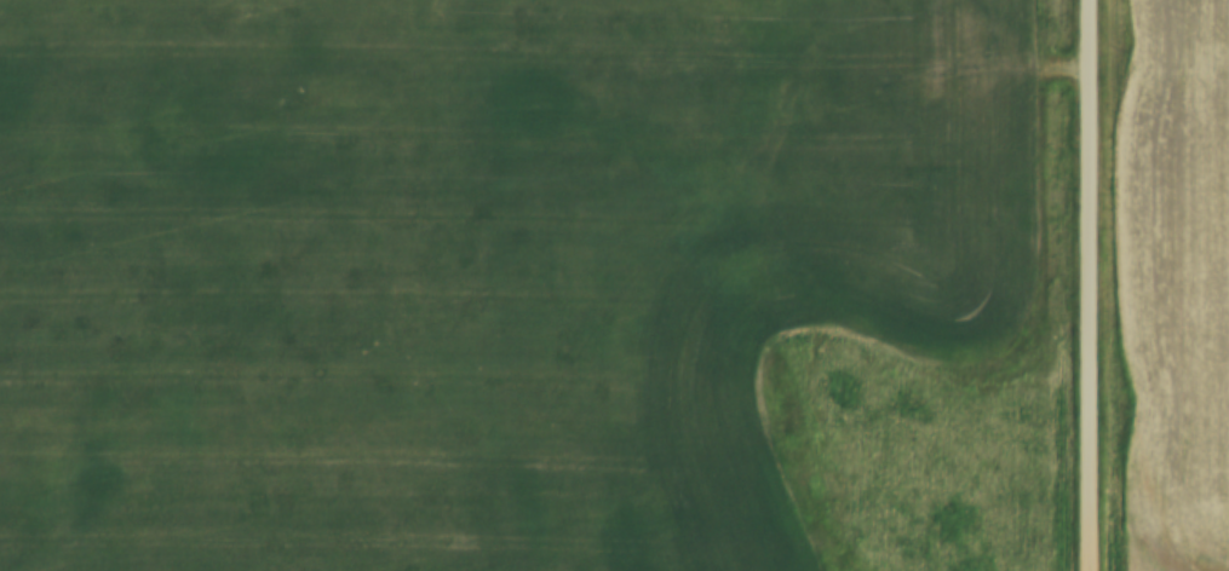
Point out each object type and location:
road: (1089, 285)

